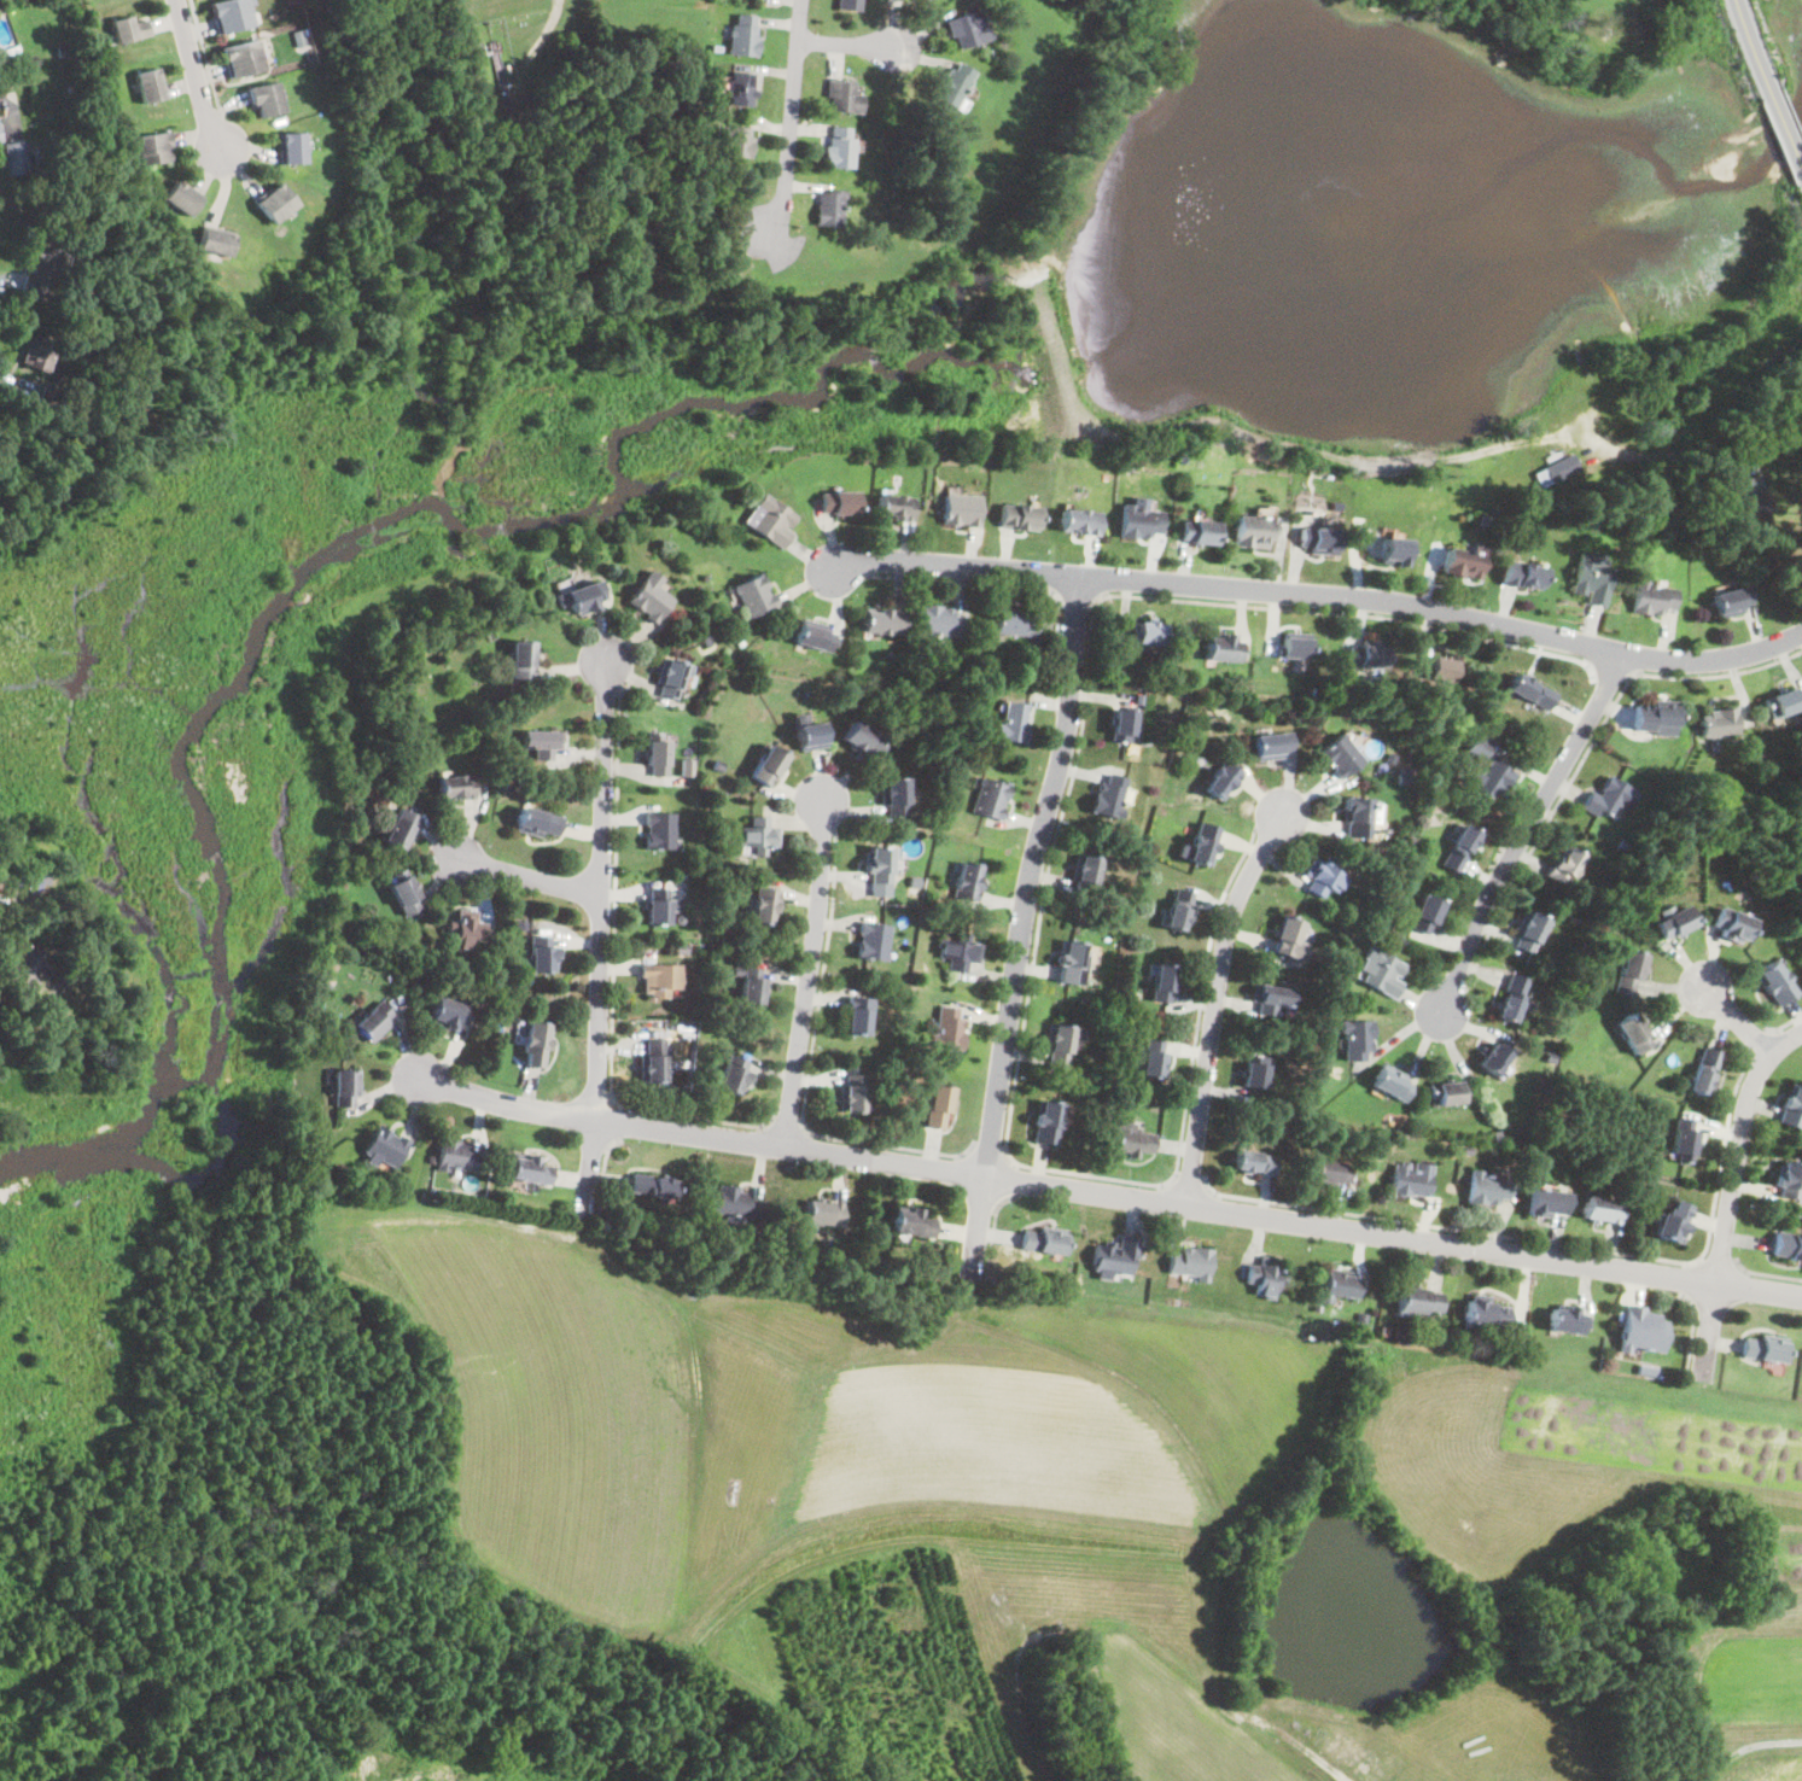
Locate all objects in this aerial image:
building: (929, 0)
building: (292, 1)
building: (848, 5)
building: (231, 16)
building: (130, 29)
building: (968, 30)
building: (298, 37)
building: (743, 37)
building: (5, 39)
road: (847, 45)
building: (8, 51)
road: (206, 56)
building: (243, 58)
road: (196, 76)
road: (1768, 84)
building: (152, 86)
building: (955, 86)
building: (740, 89)
building: (70, 90)
building: (842, 97)
building: (266, 99)
building: (704, 118)
road: (791, 121)
building: (0, 139)
building: (737, 142)
building: (156, 148)
building: (292, 148)
building: (839, 150)
building: (37, 157)
building: (18, 158)
building: (185, 198)
building: (274, 203)
building: (830, 209)
building: (216, 241)
building: (47, 265)
road: (5, 278)
building: (82, 291)
building: (40, 354)
road: (5, 379)
building: (51, 397)
road: (1778, 438)
road: (1698, 444)
building: (1130, 467)
building: (1559, 471)
building: (1718, 473)
building: (840, 503)
building: (897, 508)
building: (1748, 508)
building: (962, 510)
building: (1763, 515)
building: (1021, 518)
building: (771, 521)
building: (1081, 522)
building: (1139, 522)
building: (1253, 532)
building: (1200, 533)
building: (721, 535)
building: (1319, 541)
building: (1395, 553)
building: (1464, 564)
building: (1523, 576)
building: (1593, 580)
road: (969, 582)
road: (1320, 595)
building: (756, 596)
road: (1077, 596)
building: (585, 598)
building: (1652, 600)
building: (652, 601)
building: (1733, 602)
building: (882, 623)
building: (940, 623)
building: (1015, 624)
building: (1149, 633)
building: (815, 636)
building: (707, 641)
building: (740, 641)
building: (1295, 647)
building: (1056, 648)
building: (1223, 649)
building: (1369, 655)
building: (523, 660)
building: (1446, 671)
road: (1613, 672)
building: (672, 679)
building: (1533, 693)
building: (1141, 697)
building: (1429, 702)
building: (1784, 703)
road: (1087, 706)
building: (1658, 717)
building: (1014, 724)
building: (1719, 724)
building: (1125, 725)
building: (1419, 729)
building: (426, 730)
building: (811, 737)
building: (542, 743)
building: (862, 743)
building: (1273, 747)
building: (1477, 747)
building: (658, 755)
road: (1585, 755)
building: (1342, 757)
building: (1762, 757)
building: (688, 766)
building: (718, 767)
building: (769, 767)
building: (1402, 779)
building: (1224, 781)
building: (1489, 782)
building: (457, 788)
building: (894, 796)
building: (991, 799)
building: (1110, 799)
building: (1610, 799)
building: (1360, 817)
building: (538, 823)
building: (401, 830)
building: (661, 833)
road: (1526, 834)
building: (759, 836)
building: (1205, 846)
building: (1460, 849)
building: (1404, 856)
building: (879, 865)
building: (748, 868)
building: (1565, 868)
building: (1399, 870)
building: (682, 874)
building: (1086, 875)
building: (30, 877)
road: (525, 877)
building: (1324, 877)
building: (919, 881)
building: (968, 883)
building: (406, 893)
road: (6, 894)
building: (659, 907)
building: (765, 907)
building: (57, 909)
building: (1180, 911)
building: (1425, 915)
building: (681, 918)
building: (1558, 921)
building: (1675, 923)
building: (1732, 925)
road: (1022, 927)
building: (1380, 928)
building: (467, 930)
building: (1529, 932)
building: (1287, 936)
road: (599, 939)
building: (874, 942)
building: (682, 947)
building: (649, 952)
building: (542, 953)
building: (960, 953)
building: (443, 962)
building: (1073, 963)
building: (332, 967)
road: (614, 968)
road: (809, 968)
building: (25, 969)
building: (1382, 973)
building: (1631, 973)
road: (822, 979)
building: (661, 980)
building: (1166, 983)
building: (1774, 983)
building: (753, 991)
road: (1217, 999)
building: (1271, 999)
building: (1512, 999)
road: (1201, 1000)
building: (1109, 1002)
building: (488, 1011)
building: (450, 1014)
building: (858, 1016)
road: (1736, 1016)
building: (375, 1022)
building: (636, 1024)
road: (1784, 1026)
building: (949, 1029)
building: (1634, 1033)
building: (1358, 1039)
road: (1756, 1041)
building: (537, 1044)
building: (1060, 1046)
building: (1551, 1057)
building: (1495, 1058)
building: (1155, 1061)
building: (654, 1062)
building: (1705, 1071)
building: (1256, 1073)
building: (734, 1076)
building: (1393, 1084)
building: (346, 1088)
building: (1448, 1093)
building: (855, 1094)
building: (940, 1106)
building: (1792, 1109)
road: (618, 1121)
building: (1048, 1123)
road: (787, 1125)
building: (1685, 1140)
building: (1133, 1144)
road: (892, 1145)
building: (385, 1149)
building: (1454, 1149)
building: (1468, 1150)
road: (987, 1154)
road: (1724, 1155)
building: (457, 1156)
building: (431, 1157)
building: (1255, 1163)
road: (605, 1168)
building: (531, 1172)
building: (1330, 1174)
road: (1010, 1178)
building: (1790, 1181)
building: (1410, 1183)
road: (1189, 1186)
building: (653, 1187)
building: (1488, 1189)
road: (1108, 1195)
road: (1731, 1197)
building: (1549, 1203)
building: (736, 1204)
building: (1603, 1210)
building: (823, 1214)
building: (914, 1224)
building: (1674, 1224)
road: (1448, 1228)
road: (995, 1231)
building: (1044, 1240)
building: (1789, 1246)
building: (1115, 1256)
road: (1721, 1262)
building: (1192, 1263)
road: (1766, 1275)
building: (1266, 1277)
road: (1687, 1280)
building: (1341, 1285)
building: (1418, 1301)
building: (1486, 1313)
building: (1363, 1315)
building: (1568, 1321)
building: (1386, 1330)
building: (1643, 1331)
road: (1692, 1331)
building: (1442, 1338)
building: (1766, 1349)
building: (1649, 1372)

